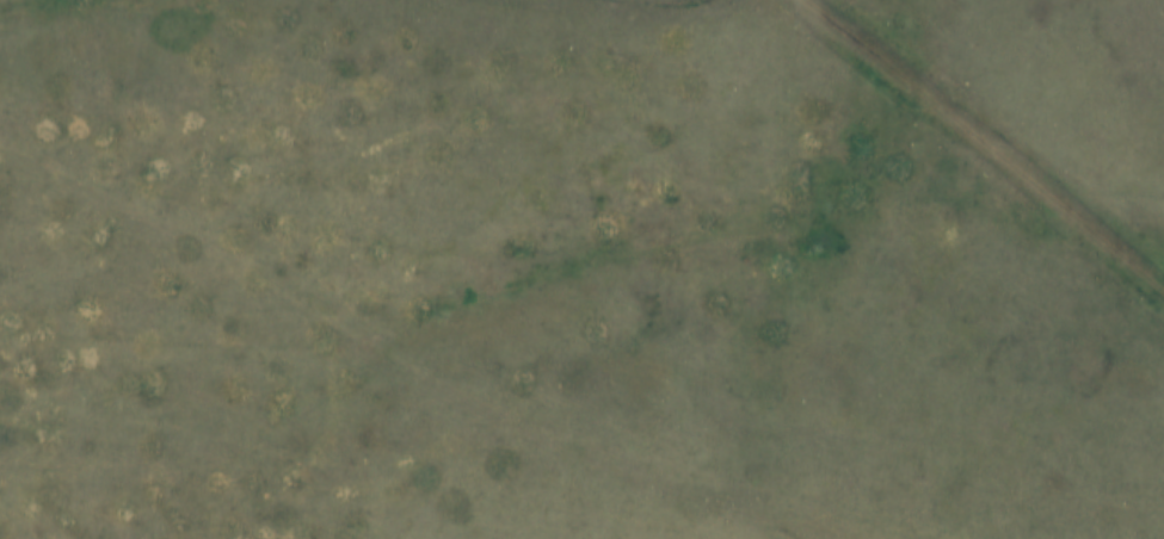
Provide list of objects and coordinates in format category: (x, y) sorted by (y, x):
road: (983, 143)

